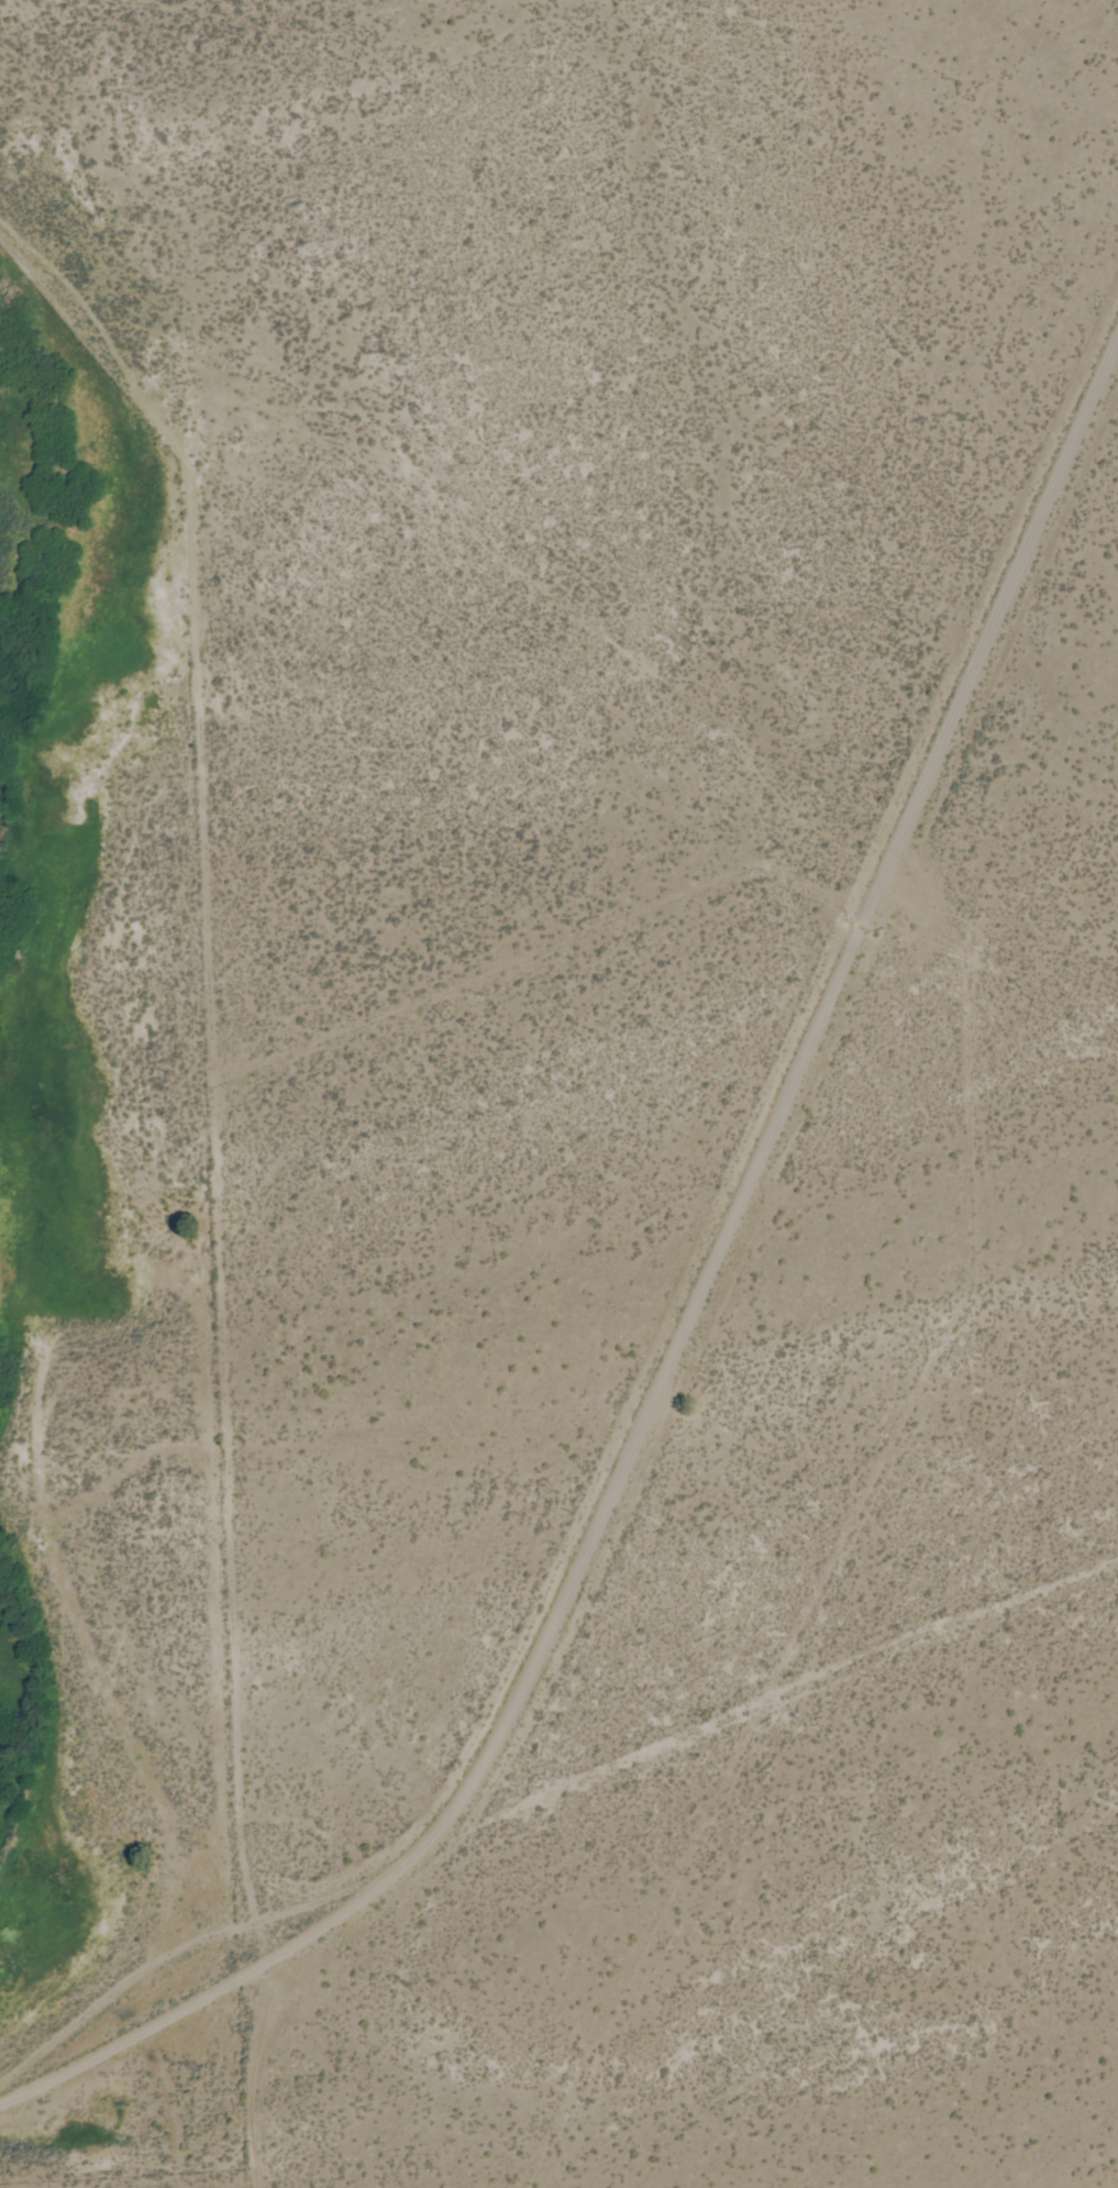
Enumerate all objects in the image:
road: (674, 1329)

